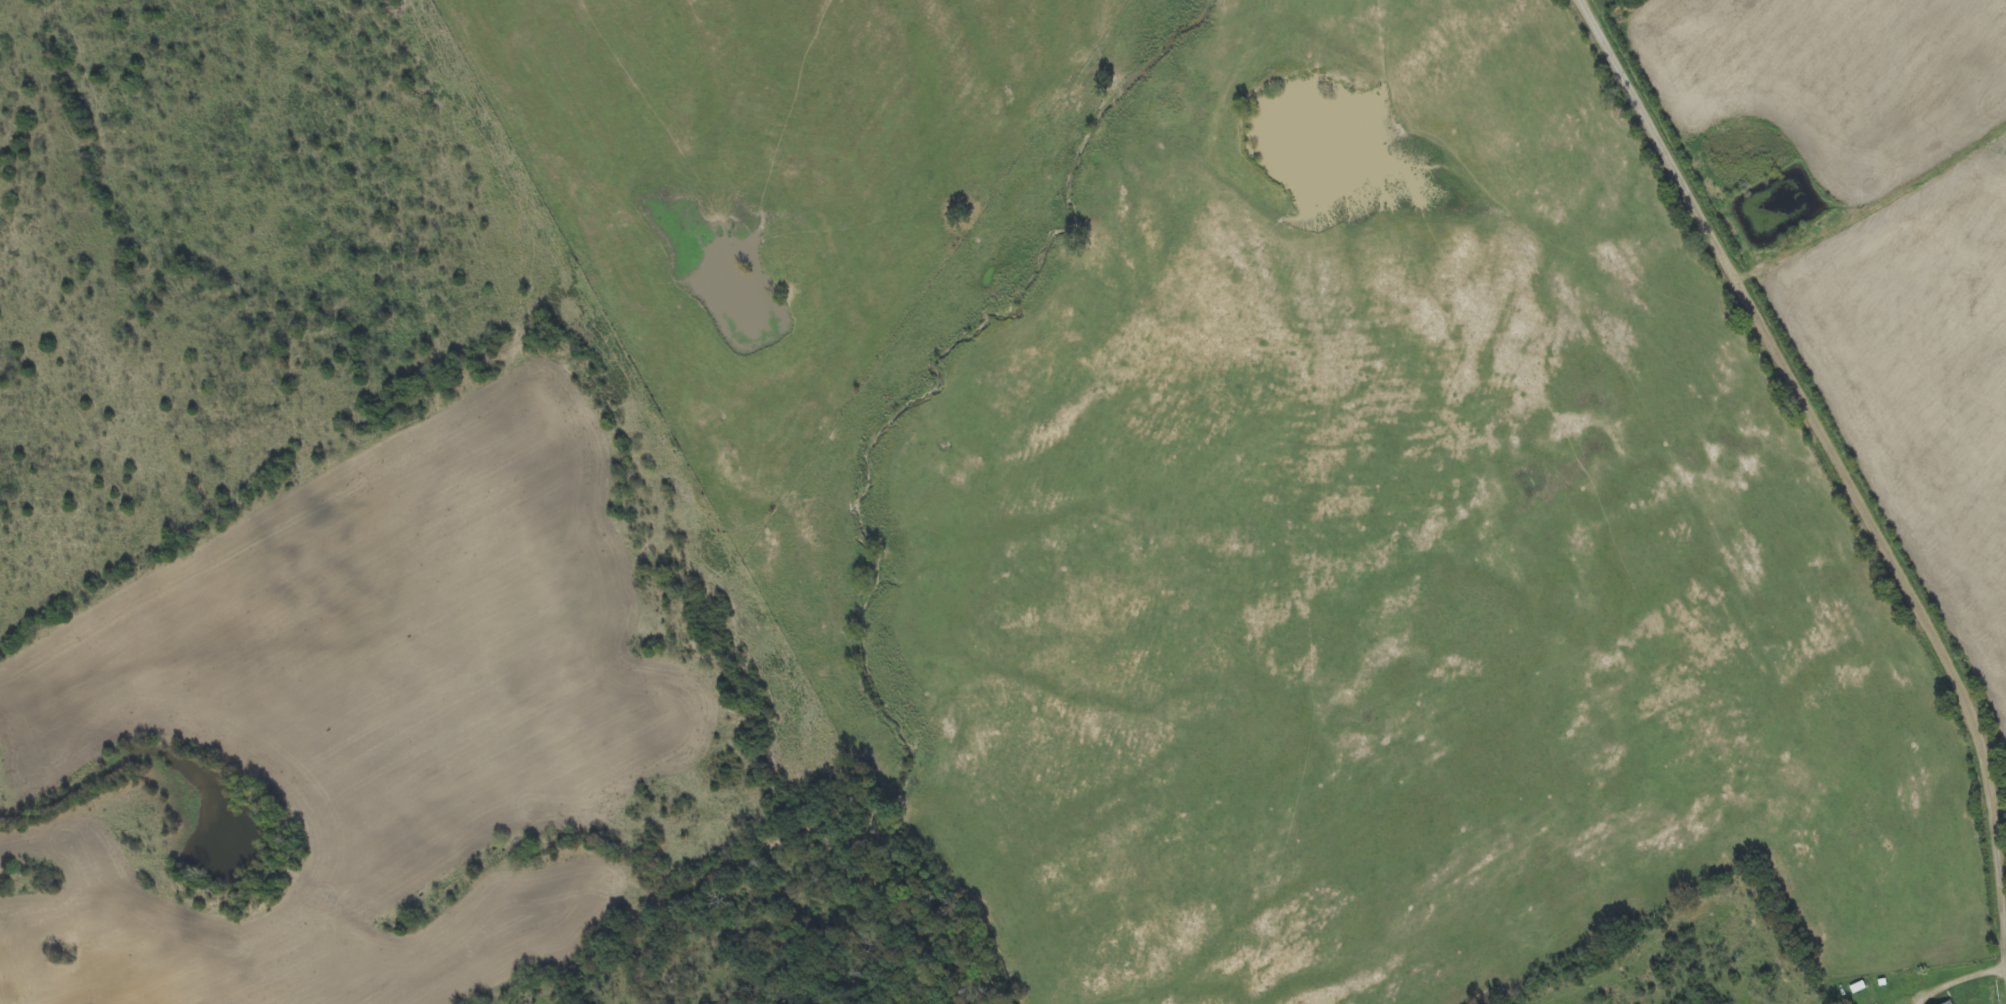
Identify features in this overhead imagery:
road: (1827, 435)

